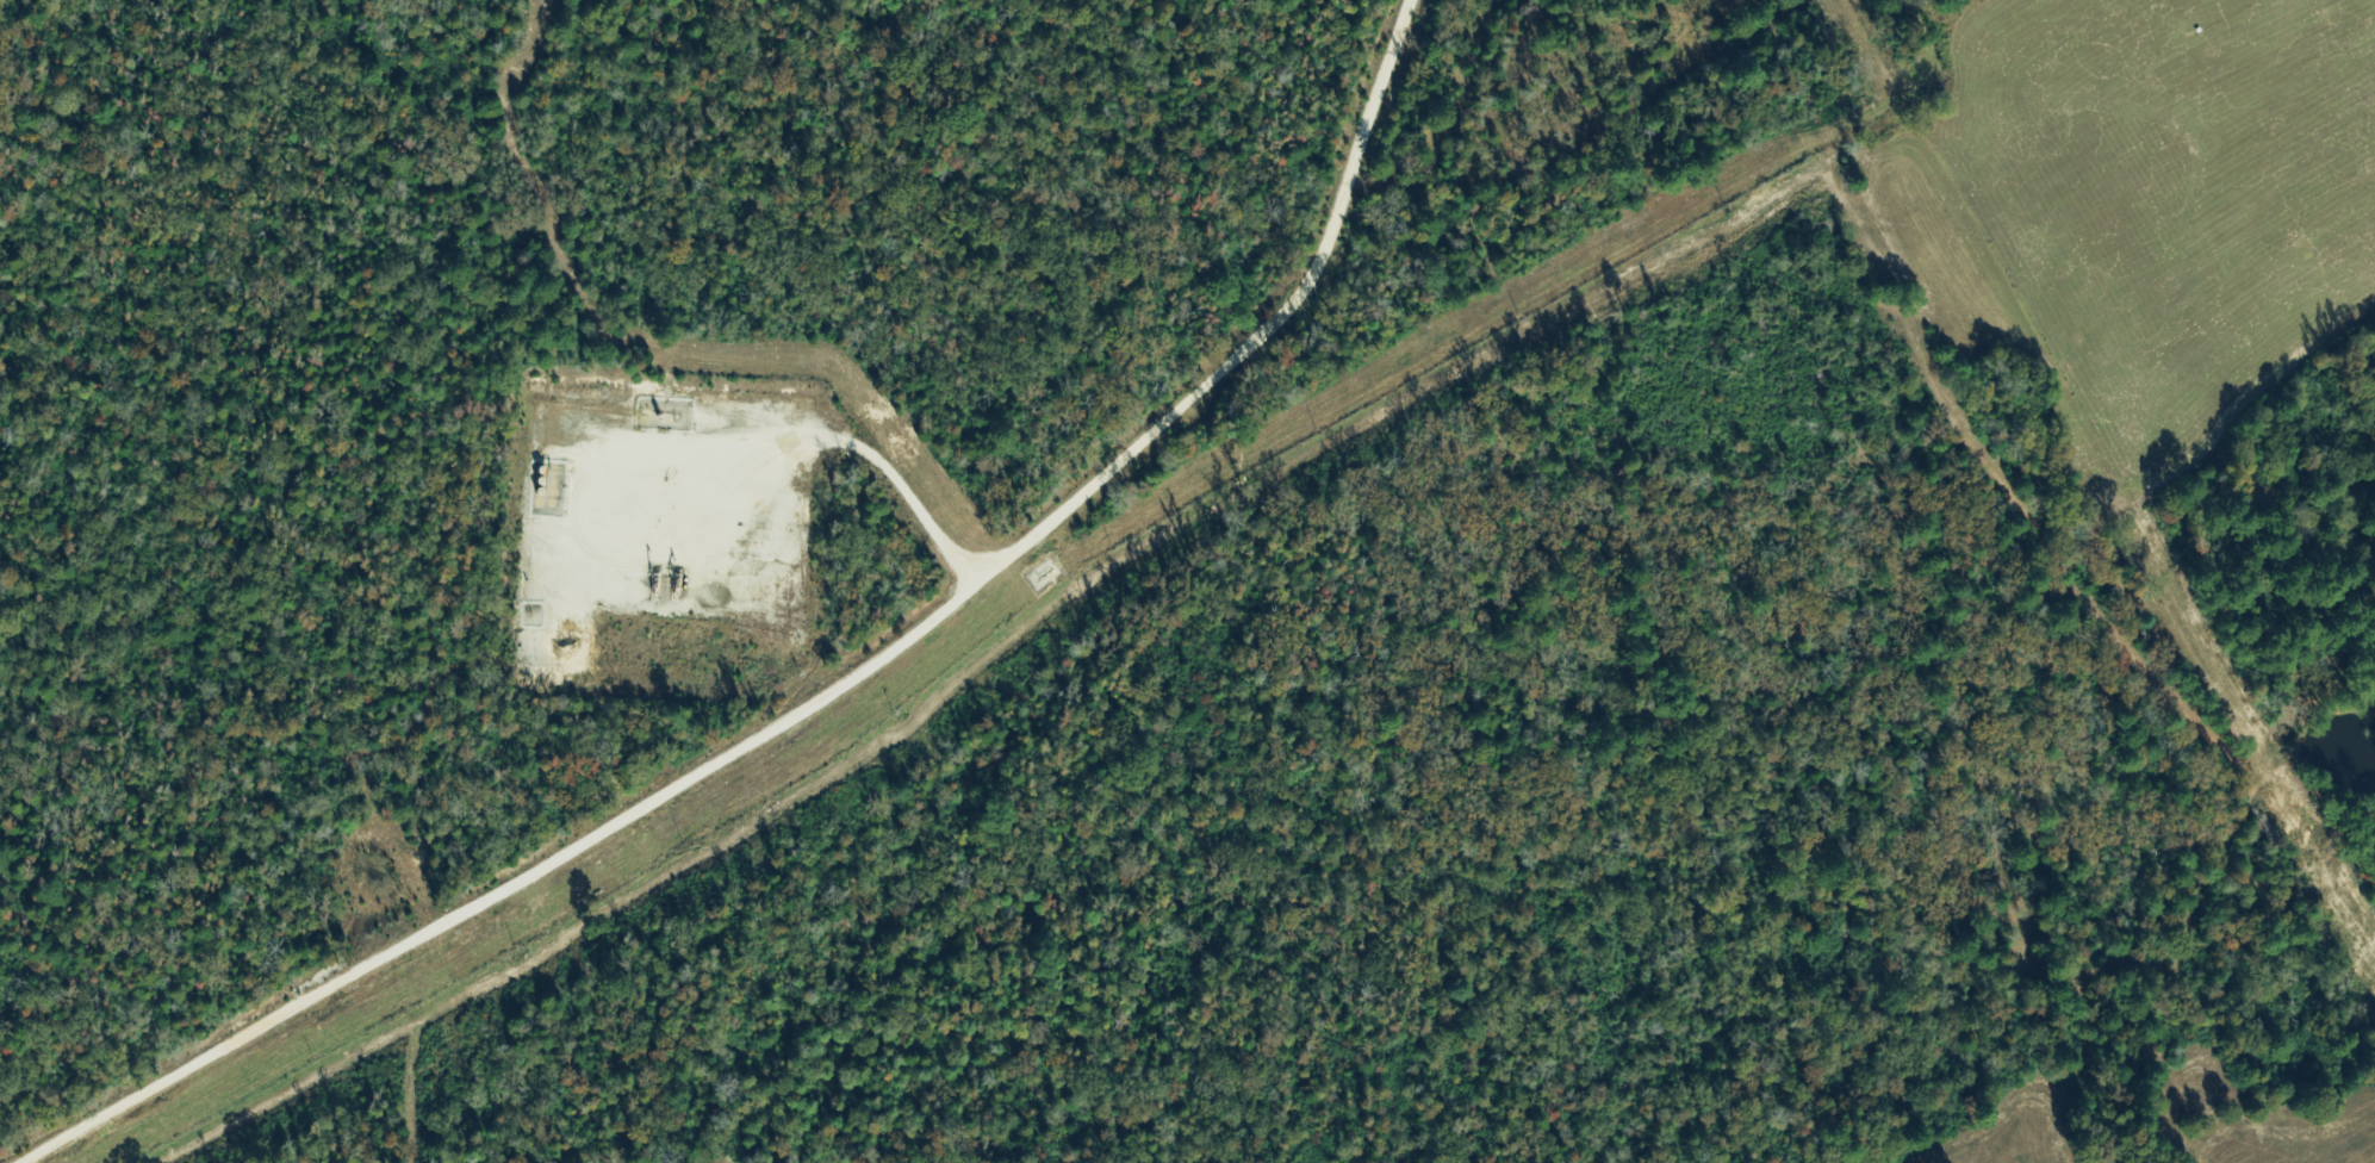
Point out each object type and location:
road: (832, 692)

